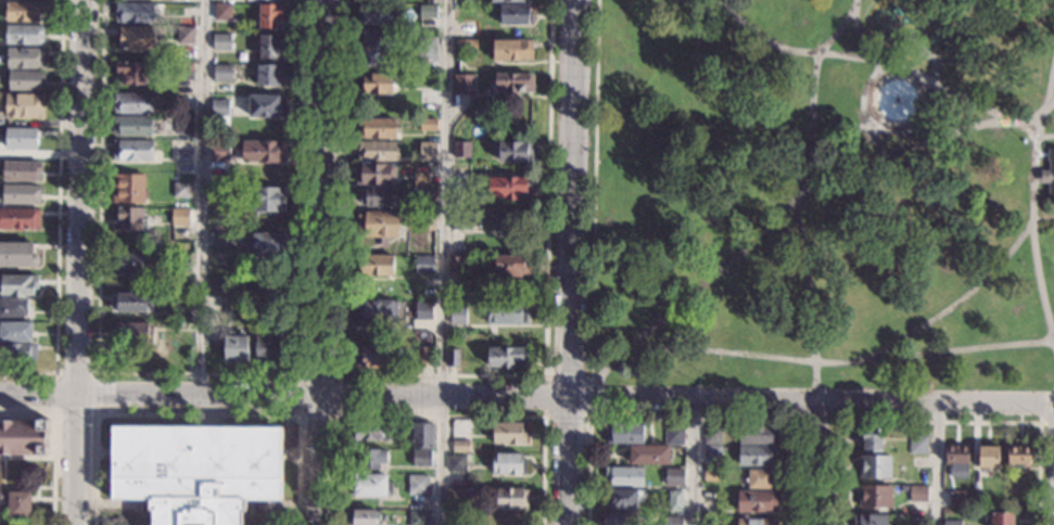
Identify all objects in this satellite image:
building: (264, 0)
building: (507, 0)
building: (432, 1)
building: (24, 10)
building: (223, 11)
building: (135, 12)
building: (376, 12)
building: (428, 12)
building: (516, 14)
building: (270, 15)
building: (24, 34)
building: (186, 35)
building: (939, 35)
building: (137, 37)
building: (223, 41)
building: (467, 44)
building: (270, 46)
building: (377, 48)
building: (512, 49)
building: (428, 53)
building: (25, 57)
road: (876, 59)
building: (185, 71)
building: (131, 72)
building: (223, 73)
building: (267, 74)
building: (26, 80)
building: (377, 82)
building: (463, 82)
building: (512, 82)
road: (1049, 84)
building: (132, 102)
building: (185, 102)
building: (24, 105)
building: (267, 106)
road: (1050, 107)
building: (429, 108)
building: (219, 112)
building: (429, 125)
building: (132, 126)
building: (185, 126)
building: (377, 127)
road: (1046, 136)
building: (20, 138)
building: (860, 138)
road: (915, 143)
building: (220, 149)
building: (461, 149)
building: (132, 150)
building: (378, 150)
building: (427, 150)
building: (263, 151)
building: (516, 151)
building: (183, 157)
building: (22, 170)
building: (373, 171)
building: (1049, 175)
building: (421, 178)
building: (510, 187)
building: (128, 188)
building: (181, 189)
road: (592, 189)
building: (219, 190)
building: (22, 193)
park: (821, 194)
road: (203, 195)
building: (378, 195)
building: (421, 195)
building: (269, 199)
road: (56, 213)
building: (180, 217)
building: (18, 218)
building: (129, 218)
road: (773, 218)
building: (456, 219)
building: (512, 219)
road: (1032, 219)
building: (428, 220)
building: (378, 222)
building: (218, 239)
building: (265, 245)
building: (17, 254)
building: (182, 261)
road: (78, 262)
building: (128, 262)
road: (325, 262)
road: (443, 262)
building: (455, 262)
road: (569, 262)
building: (376, 265)
building: (424, 265)
building: (510, 265)
building: (18, 284)
building: (220, 285)
road: (809, 290)
building: (267, 291)
building: (131, 302)
building: (179, 305)
road: (952, 305)
building: (13, 307)
building: (373, 311)
building: (423, 311)
building: (508, 313)
building: (458, 316)
building: (15, 332)
building: (134, 332)
building: (234, 347)
building: (267, 348)
building: (17, 351)
building: (372, 356)
building: (423, 356)
building: (452, 357)
building: (507, 357)
road: (846, 360)
road: (55, 372)
road: (196, 374)
road: (338, 374)
road: (442, 376)
road: (567, 377)
road: (526, 395)
road: (543, 397)
road: (588, 398)
road: (822, 401)
road: (93, 412)
road: (194, 413)
road: (297, 415)
road: (439, 415)
road: (1042, 415)
road: (566, 418)
road: (690, 419)
road: (935, 421)
building: (368, 430)
building: (508, 433)
building: (627, 433)
building: (673, 434)
building: (757, 434)
building: (423, 435)
building: (712, 435)
building: (24, 436)
building: (871, 439)
road: (52, 441)
building: (917, 444)
building: (460, 445)
building: (649, 453)
building: (712, 453)
building: (955, 453)
building: (755, 454)
building: (1018, 454)
building: (988, 457)
building: (370, 458)
building: (421, 458)
road: (693, 461)
building: (917, 461)
building: (458, 462)
building: (508, 463)
road: (810, 463)
road: (937, 464)
building: (875, 465)
building: (195, 471)
building: (712, 474)
building: (624, 475)
building: (673, 476)
building: (759, 478)
building: (370, 484)
building: (418, 484)
building: (918, 492)
building: (455, 496)
building: (874, 496)
building: (511, 497)
building: (960, 498)
building: (622, 499)
building: (674, 500)
building: (757, 500)
building: (976, 500)
building: (17, 503)
building: (361, 516)
building: (455, 516)
building: (418, 517)
building: (505, 517)
building: (619, 517)
building: (1002, 518)
building: (672, 520)
building: (868, 520)
building: (916, 520)
building: (757, 522)
building: (951, 522)

